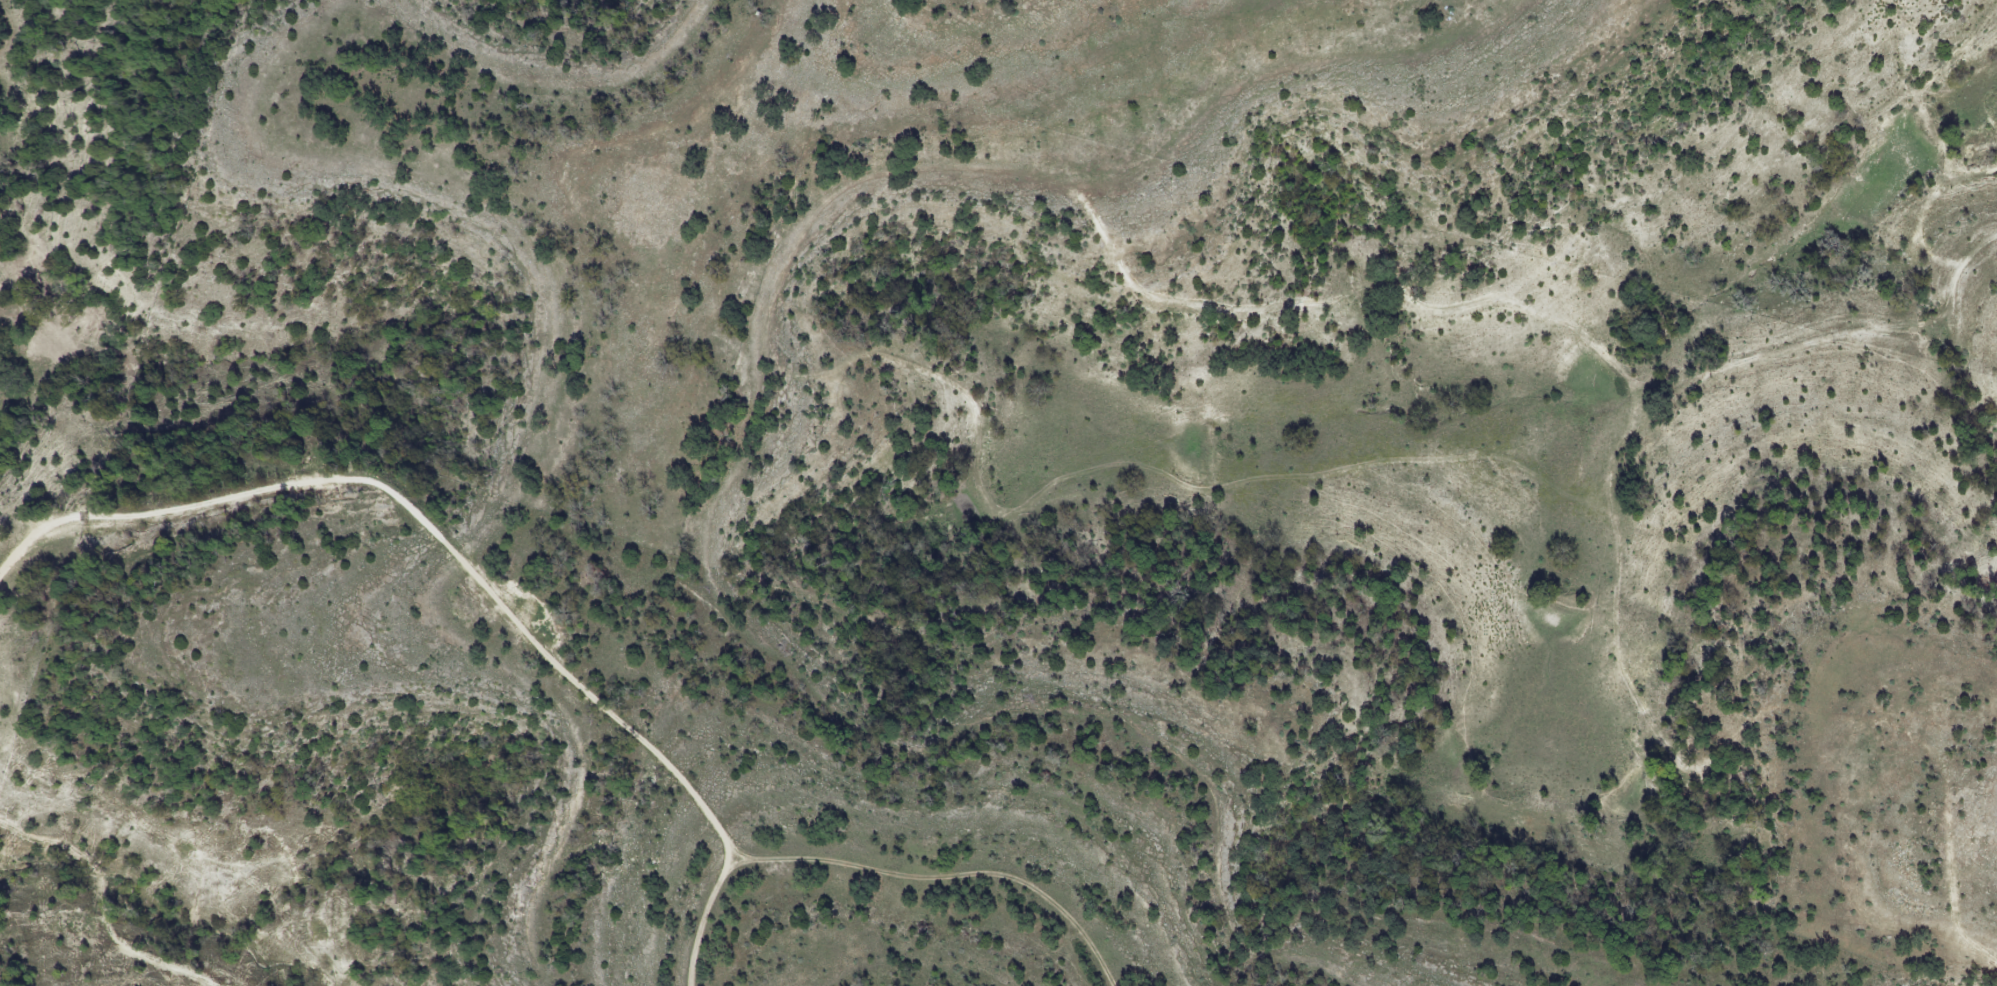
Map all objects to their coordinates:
road: (1075, 511)

